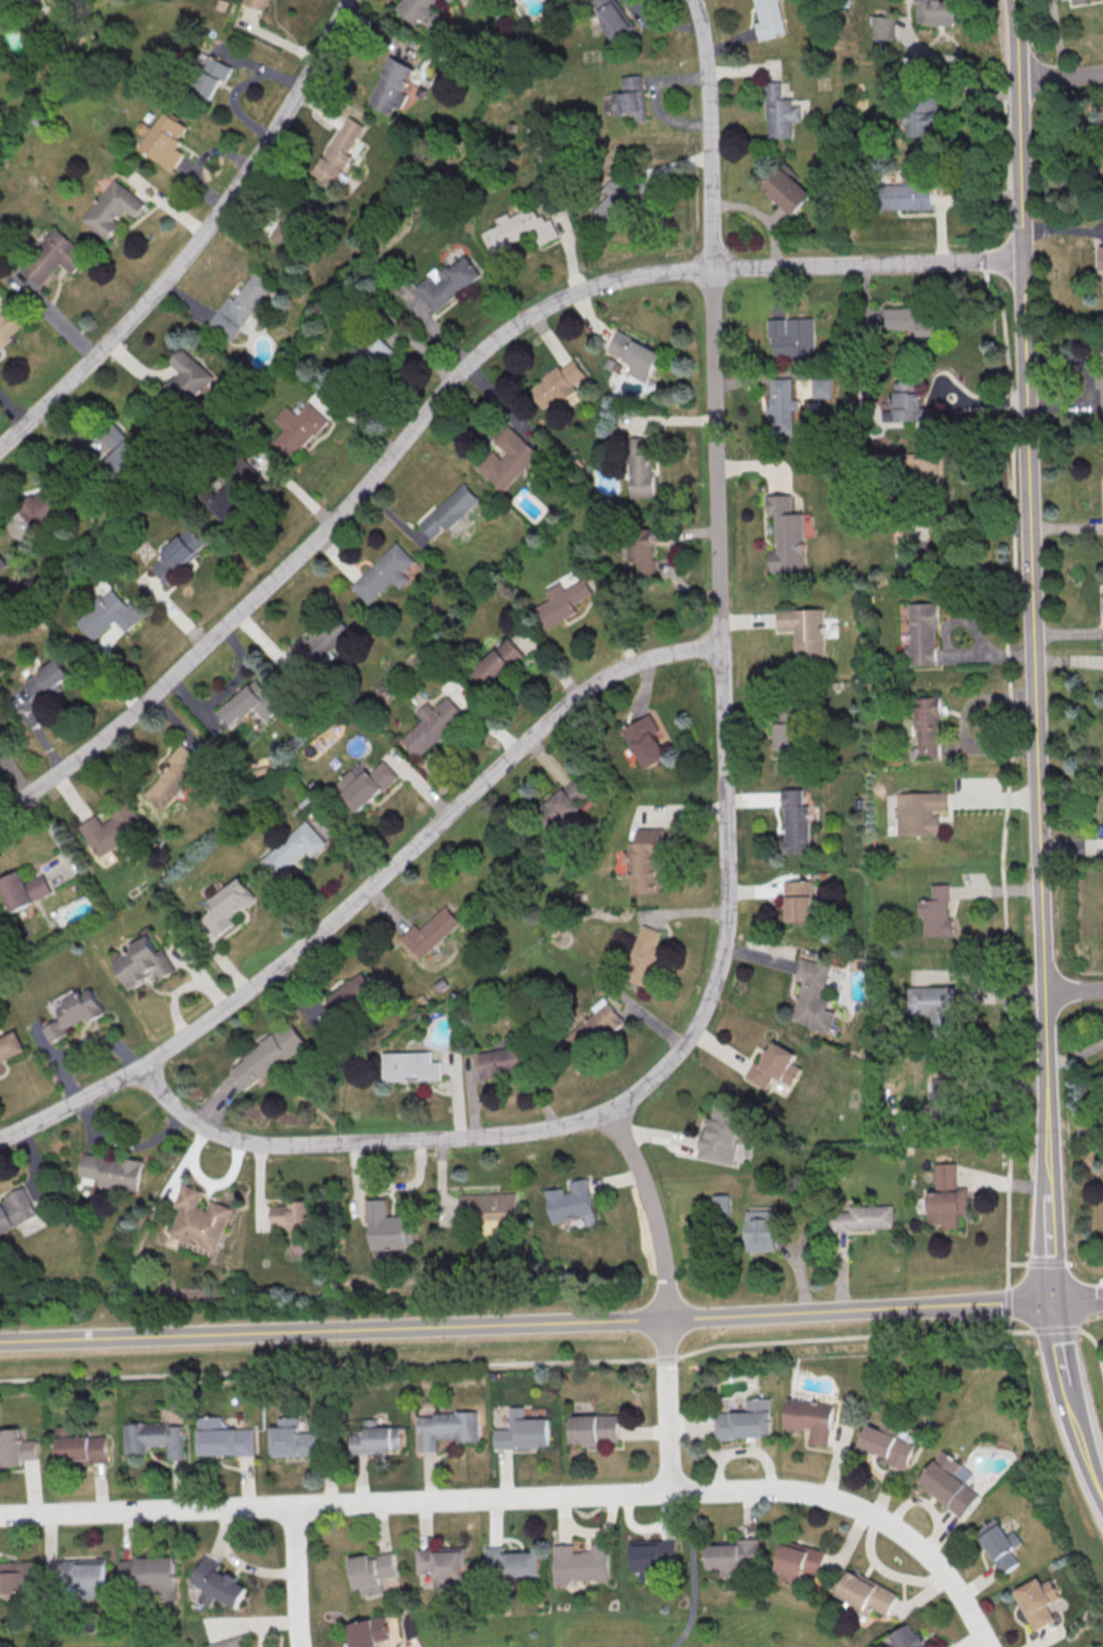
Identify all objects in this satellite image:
building: (450, 0)
building: (1079, 0)
building: (260, 3)
building: (2, 7)
building: (419, 11)
building: (936, 11)
building: (614, 17)
building: (770, 19)
building: (883, 26)
road: (1060, 75)
building: (211, 79)
building: (391, 85)
building: (630, 97)
building: (780, 112)
building: (921, 117)
road: (708, 133)
building: (166, 142)
building: (339, 150)
building: (784, 190)
building: (906, 195)
building: (612, 200)
building: (112, 210)
road: (271, 214)
building: (289, 228)
building: (518, 229)
road: (194, 236)
building: (56, 256)
building: (1102, 270)
building: (448, 282)
building: (239, 307)
building: (912, 319)
building: (8, 327)
building: (792, 336)
building: (369, 355)
building: (634, 356)
building: (1102, 371)
building: (185, 382)
building: (556, 383)
building: (821, 387)
road: (446, 390)
building: (909, 404)
building: (782, 406)
building: (297, 429)
building: (120, 450)
building: (508, 460)
building: (928, 465)
building: (639, 466)
building: (235, 497)
building: (51, 502)
building: (449, 514)
building: (786, 537)
road: (923, 547)
building: (642, 549)
building: (175, 558)
building: (2, 561)
building: (381, 574)
building: (560, 602)
road: (1032, 604)
building: (109, 617)
road: (1006, 629)
building: (804, 630)
building: (924, 632)
building: (321, 643)
building: (498, 665)
building: (48, 680)
building: (249, 704)
building: (927, 725)
building: (432, 728)
building: (784, 735)
building: (644, 740)
building: (176, 778)
building: (369, 787)
building: (564, 808)
building: (920, 814)
building: (796, 822)
building: (112, 829)
building: (294, 850)
building: (644, 860)
building: (23, 889)
road: (365, 892)
building: (798, 900)
building: (225, 909)
building: (938, 911)
building: (430, 935)
building: (642, 956)
road: (721, 958)
building: (142, 962)
road: (1074, 988)
building: (357, 994)
building: (813, 996)
building: (934, 1011)
building: (74, 1012)
building: (593, 1033)
building: (11, 1046)
road: (1075, 1054)
building: (268, 1058)
building: (509, 1063)
building: (411, 1066)
building: (774, 1066)
building: (944, 1105)
building: (721, 1135)
building: (112, 1171)
building: (947, 1197)
building: (571, 1200)
building: (721, 1205)
building: (487, 1206)
building: (16, 1209)
building: (290, 1214)
building: (199, 1219)
building: (862, 1220)
building: (387, 1227)
building: (761, 1230)
road: (656, 1231)
road: (1051, 1255)
road: (1018, 1263)
road: (1046, 1263)
road: (1071, 1264)
road: (1078, 1301)
road: (1007, 1302)
road: (526, 1323)
road: (1015, 1330)
road: (1056, 1330)
road: (1058, 1347)
road: (1096, 1347)
road: (505, 1362)
building: (810, 1421)
building: (745, 1423)
road: (667, 1425)
building: (446, 1430)
building: (593, 1431)
building: (521, 1433)
building: (153, 1439)
building: (222, 1439)
building: (290, 1441)
building: (375, 1441)
building: (888, 1446)
building: (10, 1447)
building: (78, 1447)
road: (1082, 1447)
building: (949, 1485)
road: (527, 1495)
building: (999, 1544)
building: (735, 1557)
building: (651, 1559)
building: (799, 1560)
building: (509, 1565)
building: (579, 1565)
building: (440, 1566)
road: (693, 1571)
road: (885, 1572)
building: (371, 1574)
building: (152, 1575)
road: (295, 1576)
building: (82, 1577)
building: (16, 1579)
building: (215, 1584)
building: (866, 1596)
building: (1036, 1603)
park: (641, 1619)
building: (367, 1632)
park: (94, 1636)
building: (908, 1636)
building: (228, 1643)

